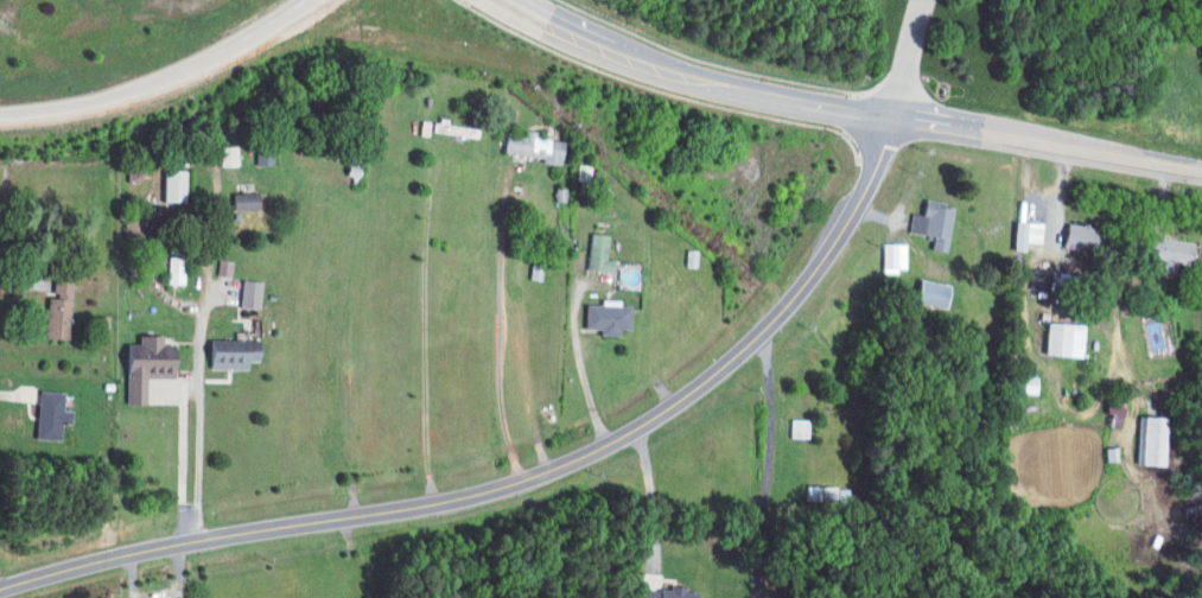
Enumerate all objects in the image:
road: (905, 58)
road: (644, 59)
road: (163, 77)
building: (441, 127)
road: (994, 134)
building: (527, 146)
building: (224, 155)
building: (260, 157)
building: (170, 185)
building: (240, 201)
building: (928, 223)
building: (594, 253)
building: (1163, 253)
building: (888, 256)
building: (220, 268)
building: (172, 271)
building: (244, 294)
building: (928, 294)
building: (53, 311)
building: (602, 317)
road: (425, 324)
road: (497, 329)
building: (1058, 339)
road: (1031, 349)
building: (228, 355)
building: (140, 365)
building: (1018, 384)
road: (587, 388)
building: (1107, 409)
building: (45, 415)
road: (199, 426)
building: (795, 428)
building: (1144, 441)
road: (768, 463)
road: (182, 475)
road: (523, 481)
building: (822, 494)
road: (650, 497)
building: (660, 592)

